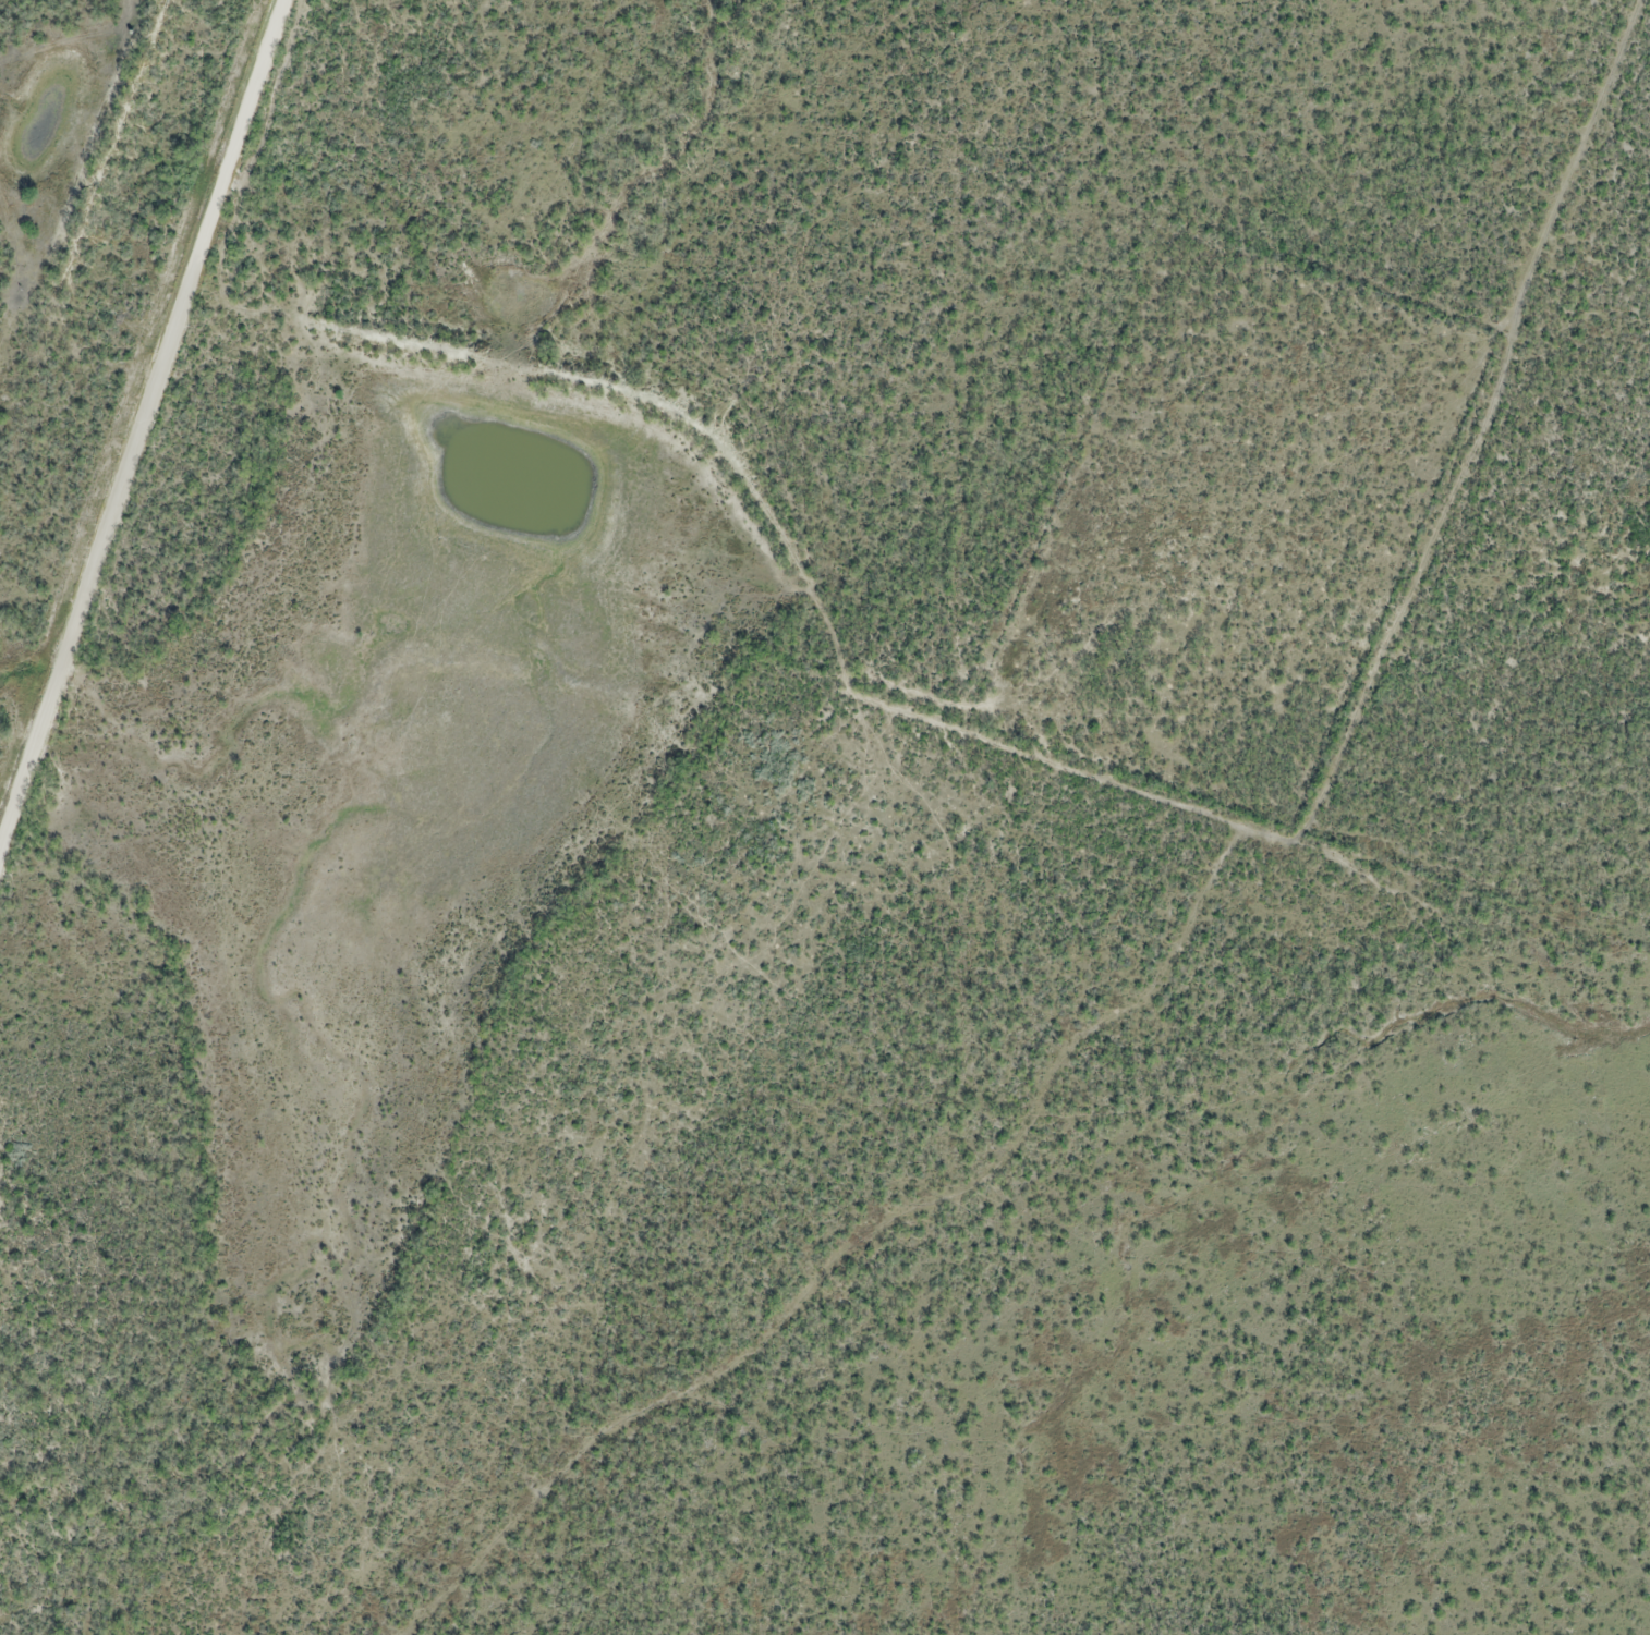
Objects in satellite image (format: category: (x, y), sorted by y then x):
road: (138, 417)

